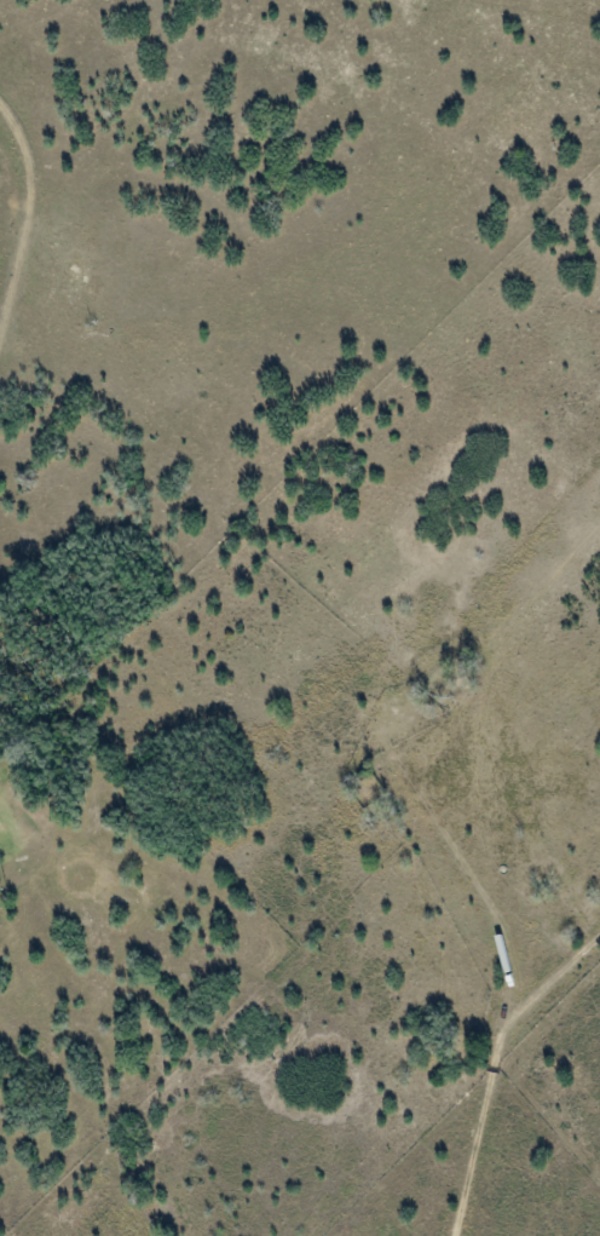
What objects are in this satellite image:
road: (504, 985)

